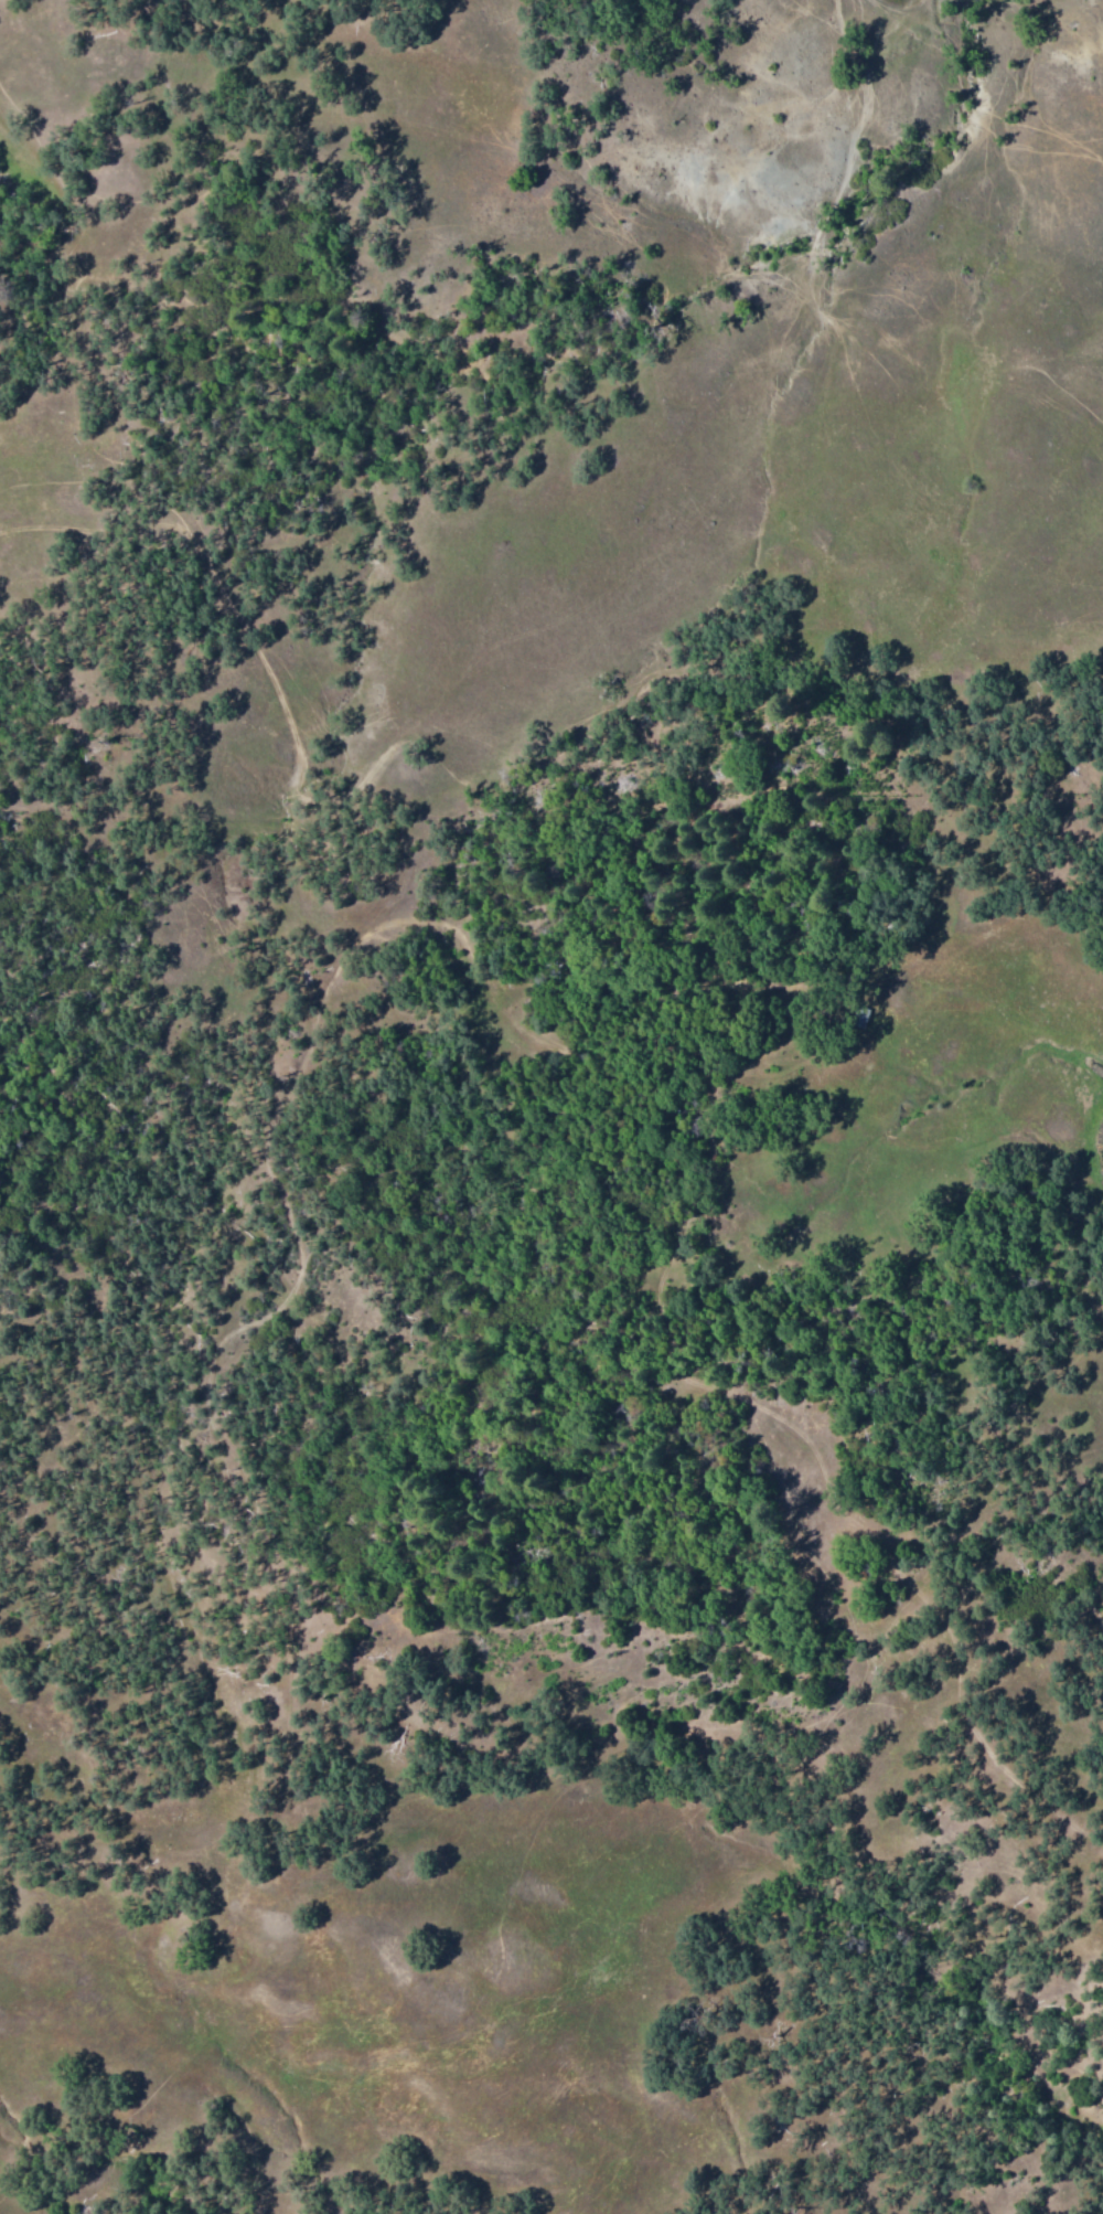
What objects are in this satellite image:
road: (714, 1384)
road: (957, 2030)

